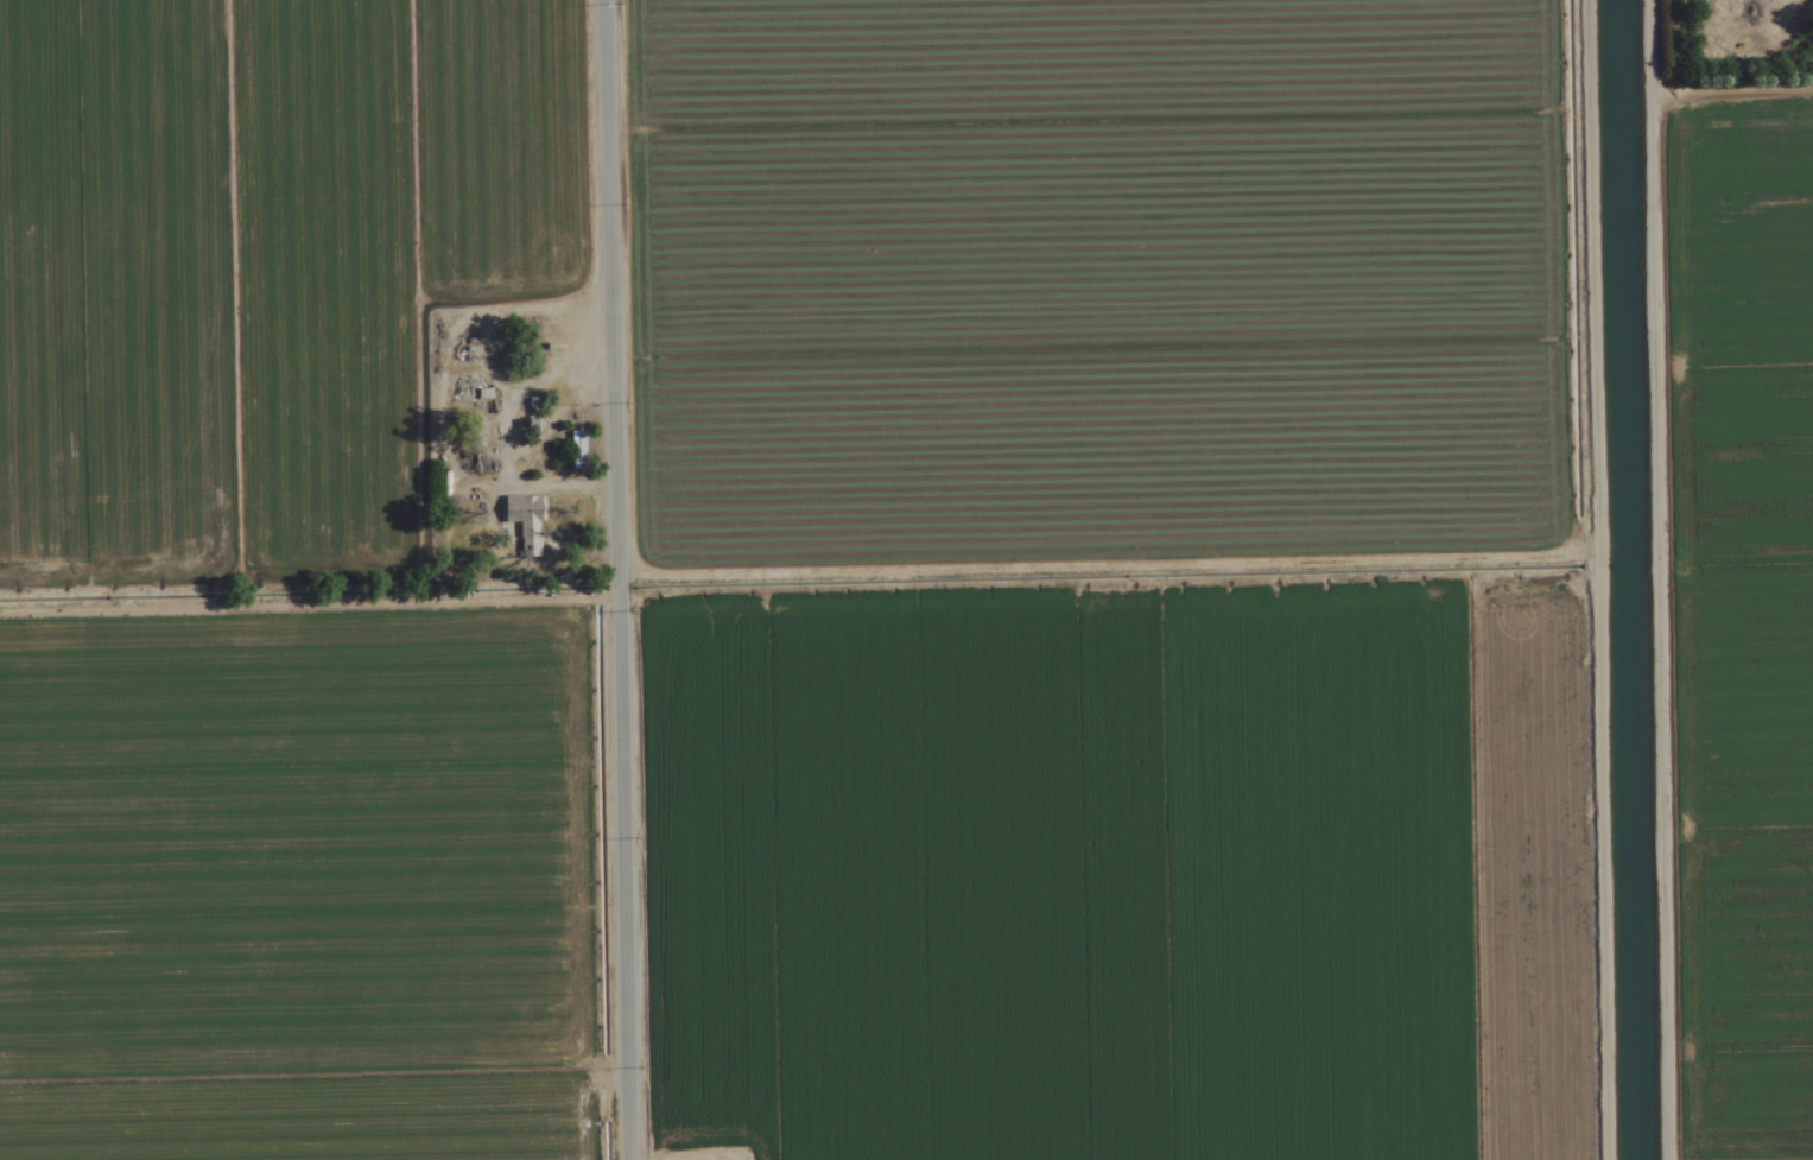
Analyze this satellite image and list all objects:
road: (613, 579)

